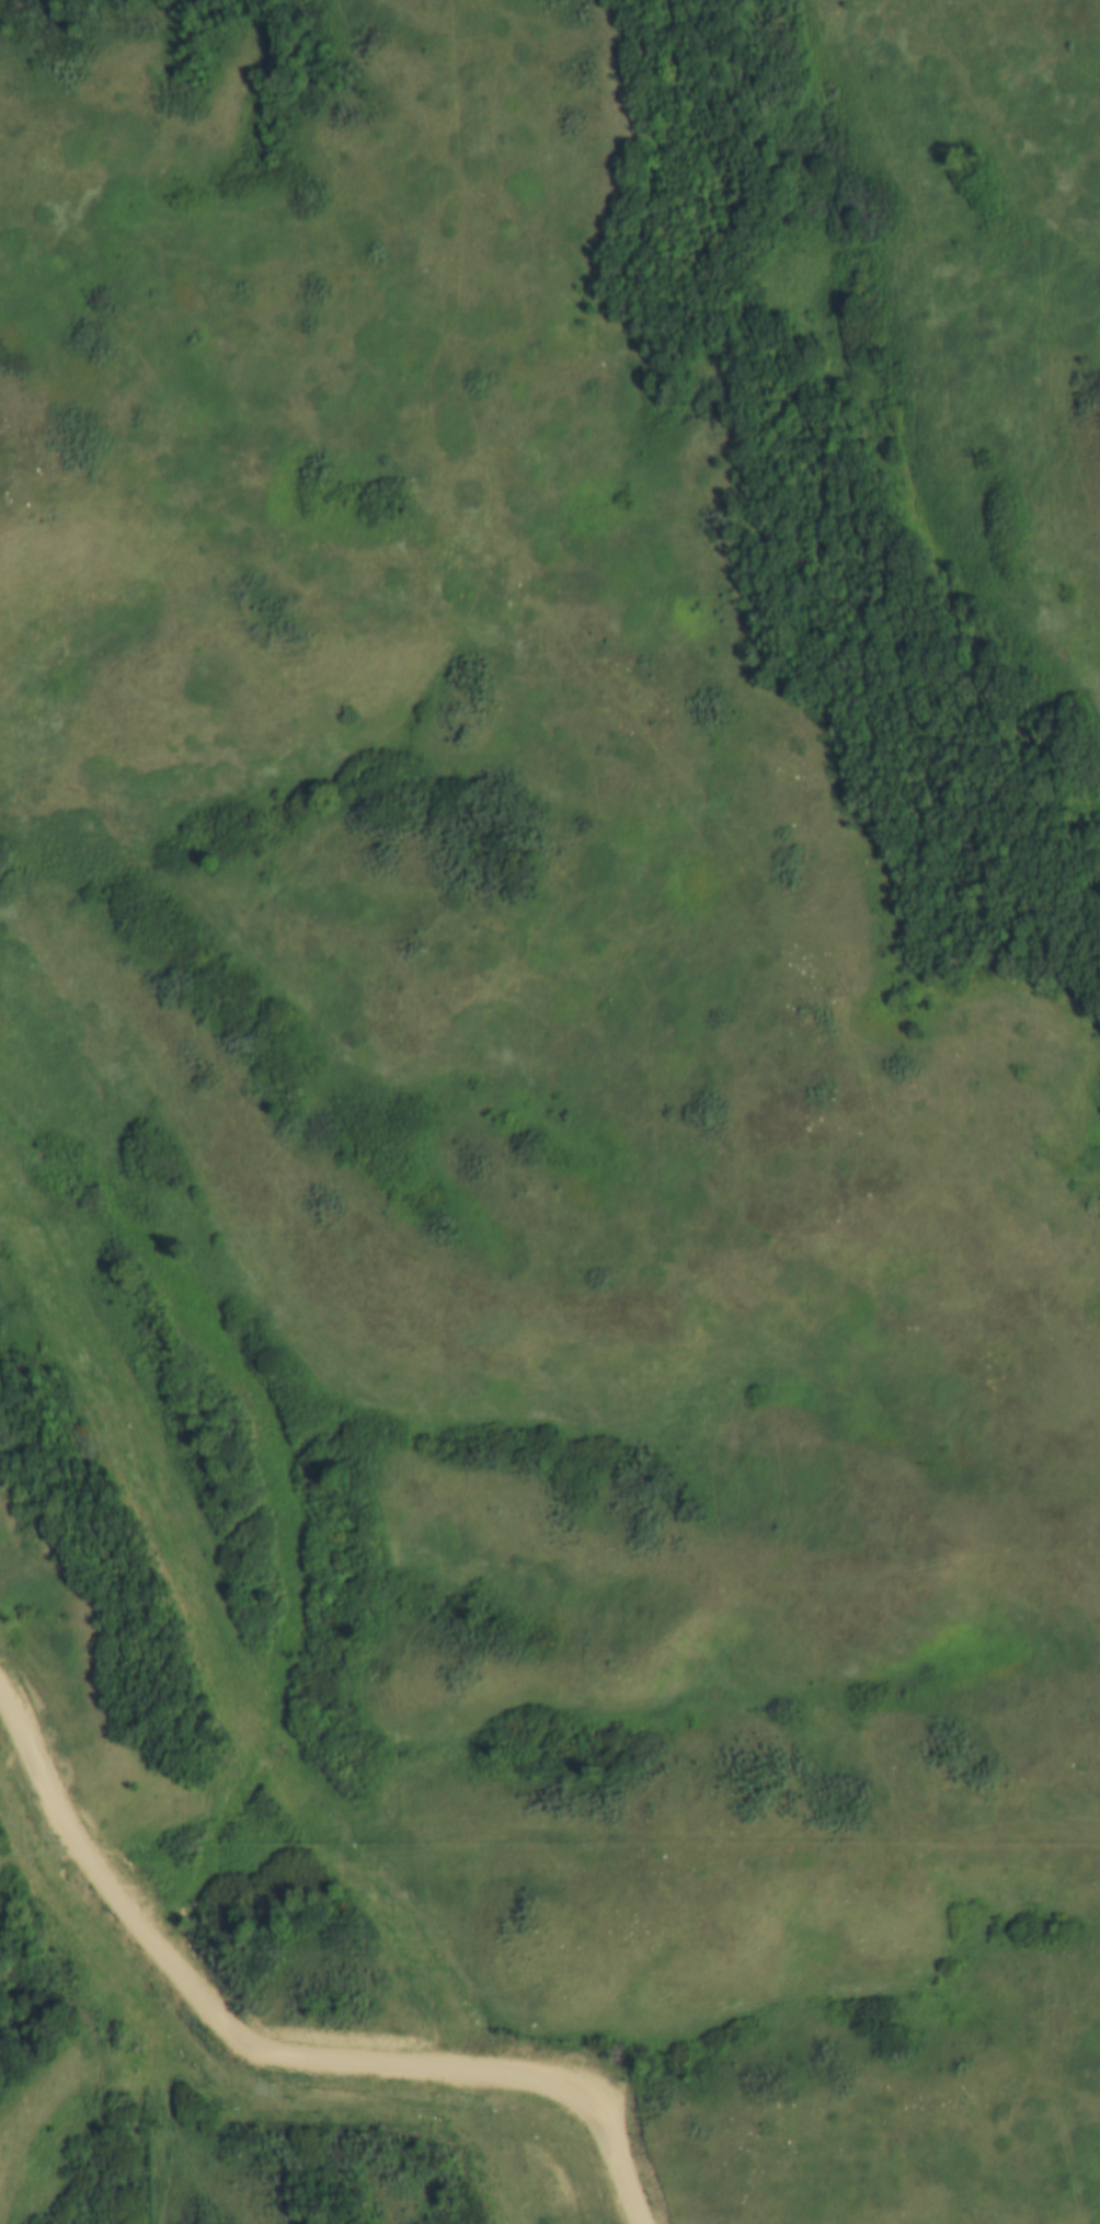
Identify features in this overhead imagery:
road: (289, 2065)

